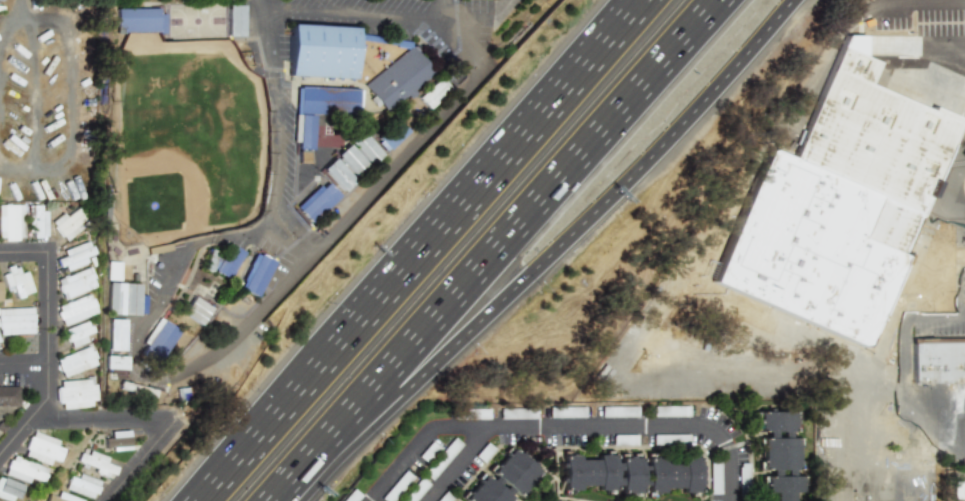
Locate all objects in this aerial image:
road: (21, 7)
road: (641, 8)
road: (642, 8)
road: (444, 9)
road: (349, 10)
building: (138, 19)
building: (235, 20)
road: (10, 25)
road: (945, 43)
building: (321, 51)
road: (665, 61)
road: (743, 61)
building: (397, 80)
road: (35, 89)
building: (432, 92)
road: (71, 102)
building: (317, 113)
building: (389, 136)
building: (364, 148)
building: (350, 161)
road: (963, 168)
building: (335, 174)
road: (490, 177)
building: (843, 198)
building: (314, 201)
road: (954, 211)
building: (36, 221)
building: (10, 222)
road: (266, 222)
building: (68, 223)
road: (336, 225)
road: (288, 238)
road: (25, 255)
building: (76, 256)
building: (218, 260)
road: (954, 262)
road: (918, 266)
building: (112, 270)
building: (251, 273)
building: (16, 282)
building: (76, 283)
road: (678, 286)
building: (122, 298)
building: (76, 309)
building: (194, 310)
road: (443, 311)
road: (493, 312)
road: (930, 314)
building: (16, 321)
building: (118, 333)
building: (79, 334)
building: (157, 339)
building: (940, 358)
building: (76, 361)
building: (115, 363)
road: (25, 364)
road: (50, 364)
building: (137, 389)
building: (76, 394)
building: (9, 398)
road: (290, 398)
building: (619, 411)
building: (670, 411)
building: (477, 413)
building: (516, 413)
road: (104, 419)
road: (563, 425)
building: (117, 439)
building: (626, 439)
building: (43, 449)
building: (778, 454)
building: (443, 458)
road: (140, 461)
road: (457, 463)
building: (96, 464)
building: (24, 470)
building: (743, 470)
building: (601, 472)
building: (671, 474)
building: (714, 477)
building: (505, 478)
road: (216, 480)
building: (81, 485)
building: (397, 486)
building: (9, 490)
building: (416, 491)
building: (61, 497)
building: (445, 498)

